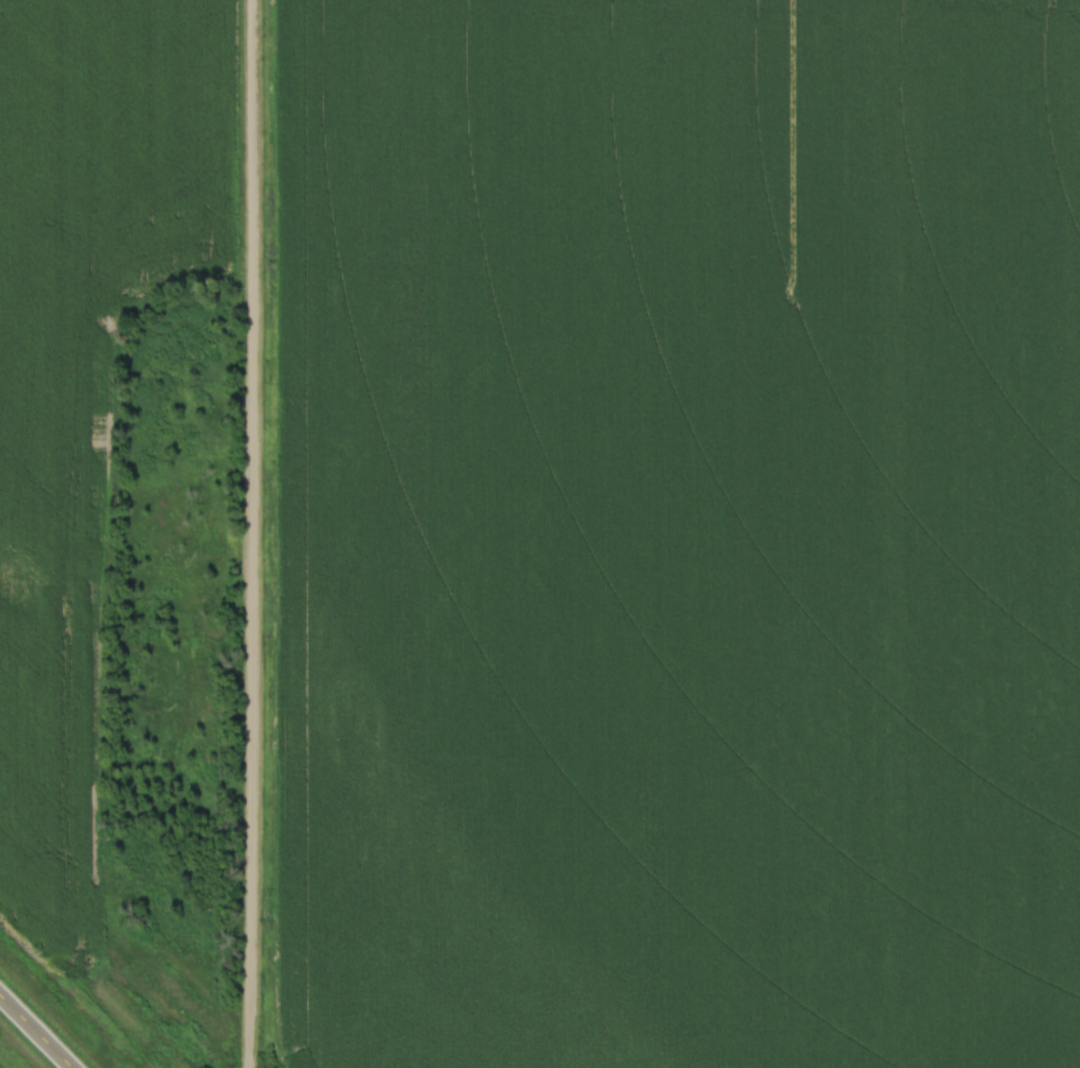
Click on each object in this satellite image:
road: (255, 533)
road: (35, 1032)

